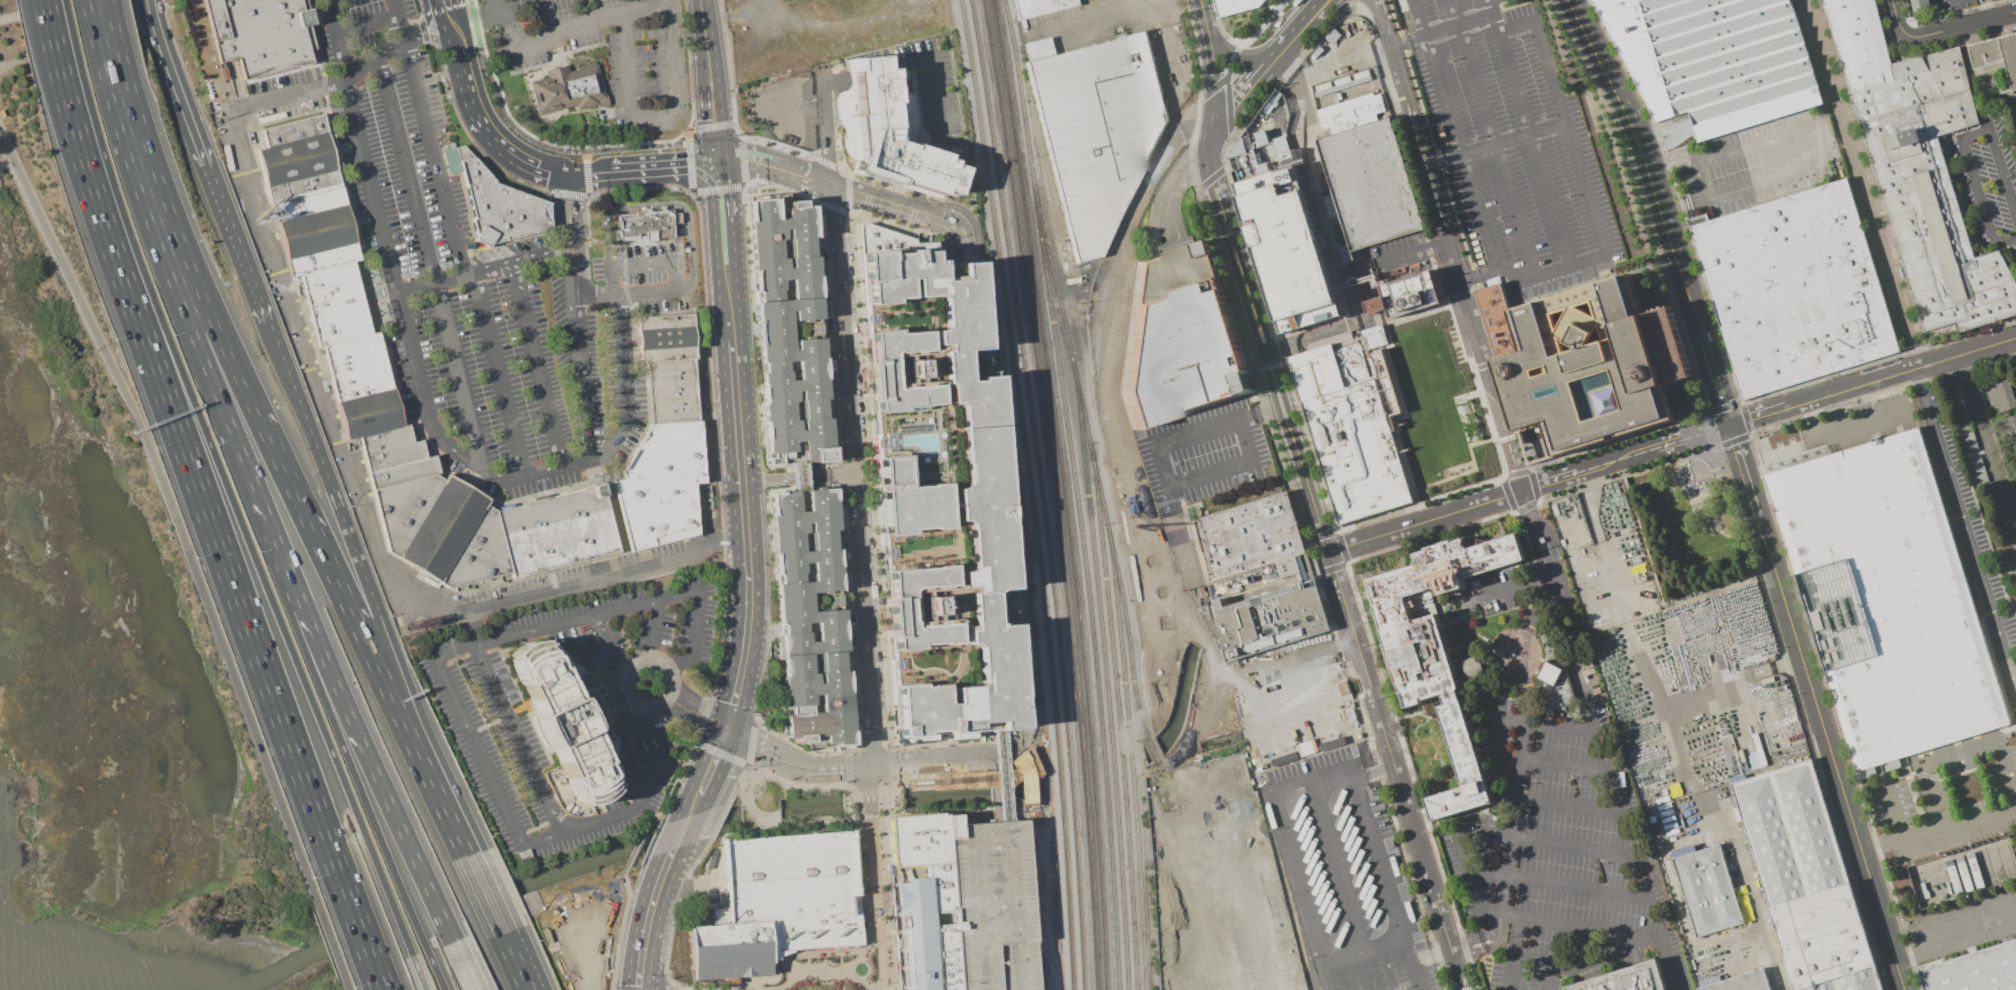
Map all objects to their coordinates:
road: (1349, 1)
road: (519, 4)
building: (1920, 5)
road: (394, 6)
road: (491, 6)
building: (1240, 6)
building: (1040, 7)
road: (40, 10)
road: (500, 10)
road: (646, 11)
road: (448, 12)
road: (1310, 15)
road: (1955, 15)
road: (472, 19)
road: (1085, 19)
road: (1207, 20)
road: (42, 22)
road: (45, 22)
road: (366, 22)
road: (1380, 22)
road: (423, 23)
road: (1894, 23)
road: (399, 25)
road: (1957, 31)
road: (704, 32)
building: (261, 33)
road: (1422, 35)
road: (338, 37)
road: (434, 38)
road: (455, 41)
road: (1287, 41)
road: (105, 43)
road: (389, 46)
building: (1996, 54)
road: (1243, 55)
building: (1715, 60)
road: (626, 61)
parking lot: (646, 65)
road: (359, 67)
road: (58, 72)
road: (870, 72)
road: (1398, 80)
road: (236, 84)
road: (935, 85)
building: (569, 89)
road: (1244, 91)
road: (474, 109)
road: (712, 114)
road: (1306, 115)
road: (825, 121)
building: (886, 130)
building: (1096, 130)
road: (1635, 131)
building: (1676, 132)
road: (1960, 137)
road: (1493, 139)
road: (1570, 139)
road: (1494, 143)
road: (547, 145)
parking lot: (1511, 145)
road: (1461, 152)
building: (1366, 155)
road: (433, 156)
road: (1672, 158)
road: (203, 162)
road: (585, 162)
parking lot: (1761, 162)
road: (1822, 162)
traffic signals: (717, 163)
road: (764, 165)
road: (536, 166)
road: (663, 166)
building: (1920, 167)
road: (926, 171)
road: (590, 172)
traffic signals: (570, 173)
road: (1861, 184)
road: (1173, 187)
road: (1545, 191)
road: (720, 193)
road: (869, 194)
road: (915, 200)
building: (497, 202)
road: (664, 205)
road: (149, 213)
road: (365, 219)
building: (645, 225)
road: (1227, 226)
road: (958, 227)
road: (944, 234)
road: (106, 235)
road: (182, 247)
road: (1449, 250)
building: (1298, 253)
road: (1414, 254)
road: (430, 261)
road: (671, 262)
road: (980, 268)
road: (485, 269)
parking lot: (453, 271)
parking lot: (652, 274)
road: (726, 283)
building: (1794, 288)
building: (1407, 294)
road: (1691, 306)
road: (1116, 307)
road: (578, 316)
building: (787, 329)
building: (1180, 338)
parking garage: (1180, 338)
building: (1598, 363)
road: (537, 365)
road: (1096, 367)
road: (498, 375)
road: (1871, 381)
road: (1714, 383)
building: (363, 387)
road: (735, 393)
building: (2002, 394)
road: (1262, 410)
road: (1888, 417)
building: (1357, 423)
road: (1855, 427)
building: (2009, 429)
road: (1507, 438)
road: (1990, 438)
building: (666, 441)
road: (449, 446)
road: (1115, 449)
building: (1973, 454)
road: (345, 463)
building: (2015, 463)
building: (2015, 465)
road: (1231, 466)
road: (323, 468)
road: (1741, 469)
road: (1161, 470)
road: (852, 474)
road: (1948, 476)
road: (1305, 479)
road: (800, 480)
road: (1527, 489)
building: (938, 490)
railway: (1030, 493)
railway: (1044, 493)
railway: (1057, 493)
railway: (1066, 493)
railway: (1078, 493)
road: (305, 515)
road: (616, 515)
road: (734, 522)
road: (753, 522)
railway: (1109, 524)
park: (1690, 525)
road: (1550, 536)
road: (1532, 537)
building: (2013, 541)
road: (275, 542)
road: (188, 556)
road: (1157, 573)
building: (1257, 575)
railway: (1099, 586)
road: (1508, 589)
building: (1887, 599)
road: (1535, 608)
building: (808, 617)
road: (529, 631)
road: (654, 631)
road: (1497, 634)
road: (745, 640)
road: (1999, 640)
road: (611, 646)
building: (1438, 649)
road: (294, 657)
road: (1188, 662)
road: (262, 666)
road: (310, 667)
building: (1473, 667)
road: (1279, 670)
road: (1021, 672)
road: (625, 675)
road: (1734, 680)
building: (1557, 684)
road: (1522, 701)
road: (697, 704)
road: (731, 704)
building: (571, 717)
railway: (1119, 717)
road: (688, 719)
parking lot: (489, 725)
road: (1093, 725)
traffic signals: (726, 727)
road: (1747, 728)
railway: (1146, 730)
road: (423, 734)
road: (410, 740)
road: (1675, 743)
road: (1954, 748)
road: (1828, 752)
railway: (1132, 756)
road: (712, 760)
road: (935, 760)
road: (792, 764)
road: (1009, 764)
road: (1586, 765)
road: (1396, 772)
road: (1001, 774)
road: (1000, 775)
road: (1005, 777)
road: (886, 782)
road: (1030, 794)
road: (1568, 804)
road: (692, 805)
road: (1896, 816)
road: (1938, 832)
road: (1527, 838)
road: (521, 840)
road: (406, 843)
parking lot: (1561, 860)
building: (1981, 867)
road: (1029, 876)
road: (872, 878)
building: (1805, 880)
road: (1577, 889)
building: (1707, 889)
road: (483, 894)
building: (721, 897)
road: (651, 900)
building: (922, 900)
building: (778, 904)
parking lot: (990, 906)
building: (990, 907)
road: (1469, 908)
building: (1232, 920)
road: (1036, 926)
road: (1963, 927)
road: (1579, 928)
road: (1730, 933)
road: (1515, 937)
road: (1926, 938)
road: (1955, 948)
road: (1594, 950)
road: (583, 957)
road: (513, 961)
road: (1546, 961)
road: (1666, 964)
road: (463, 966)
building: (1976, 971)
road: (418, 973)
road: (1509, 973)
road: (376, 976)
road: (377, 976)
building: (1626, 979)
building: (1742, 982)
road: (668, 986)

